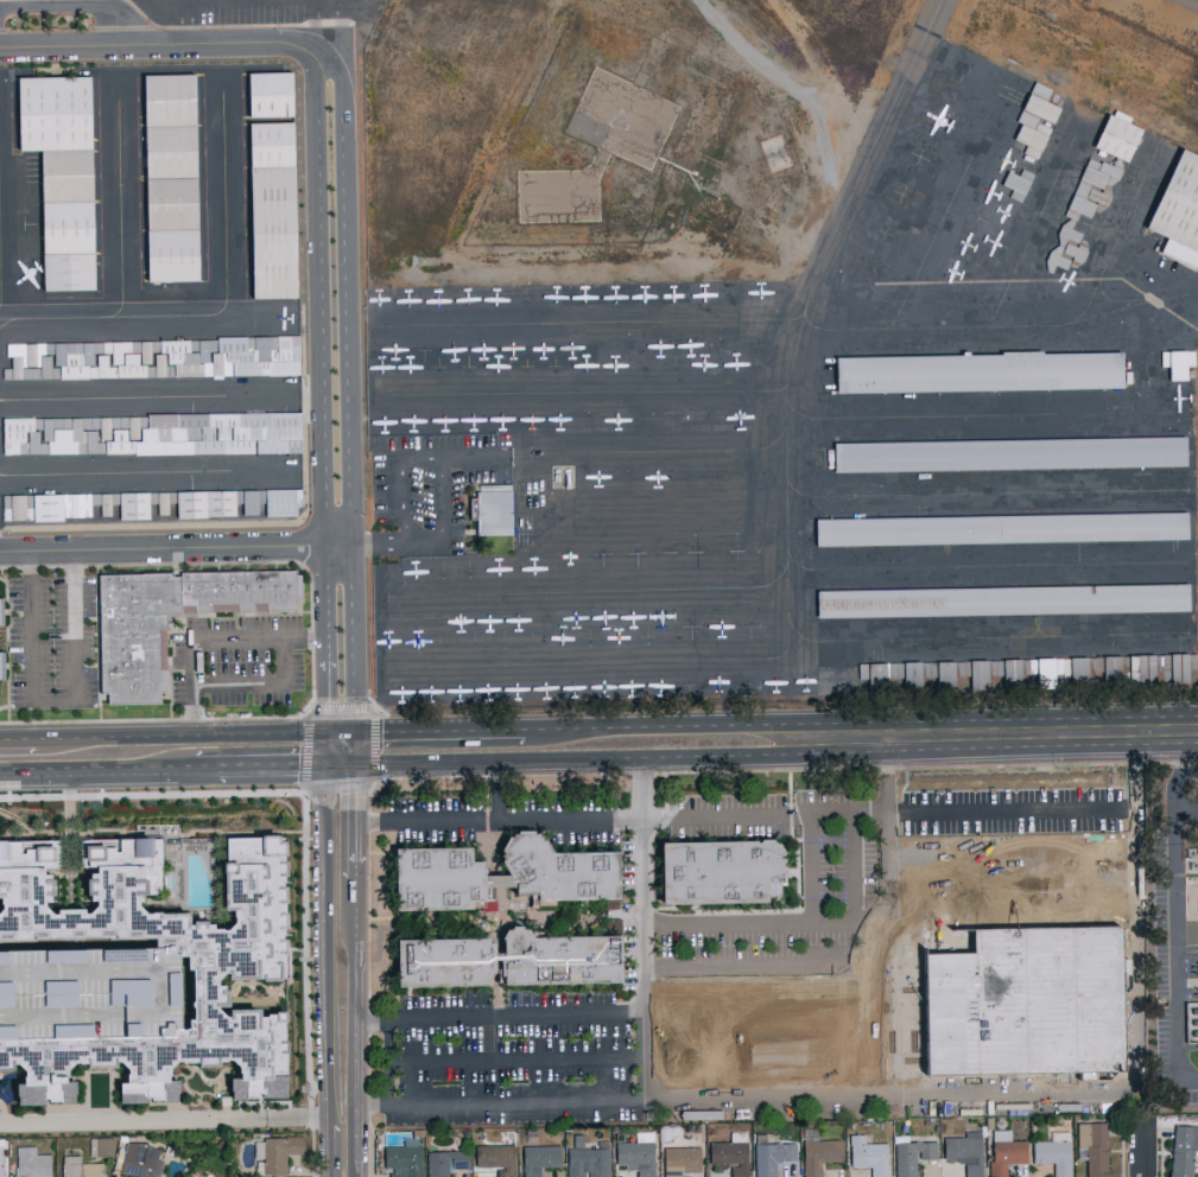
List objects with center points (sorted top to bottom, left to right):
road: (78, 7)
parking lot: (258, 11)
road: (189, 24)
road: (327, 28)
road: (171, 49)
building: (271, 96)
building: (170, 100)
building: (53, 113)
building: (1033, 119)
building: (1114, 135)
building: (272, 146)
building: (171, 151)
building: (66, 176)
building: (1095, 180)
building: (172, 204)
building: (1177, 209)
building: (68, 228)
building: (273, 233)
building: (1070, 234)
building: (172, 256)
building: (68, 272)
airport: (630, 330)
building: (152, 358)
building: (1175, 362)
building: (981, 373)
road: (319, 400)
road: (349, 401)
building: (152, 435)
building: (1012, 454)
road: (473, 458)
airport taxiway: (115, 473)
airport taxiway: (1, 475)
road: (398, 481)
parking lot: (429, 492)
road: (444, 500)
building: (150, 508)
building: (495, 510)
building: (997, 528)
road: (399, 543)
road: (176, 549)
building: (999, 600)
road: (214, 641)
parking lot: (52, 643)
building: (134, 655)
parking lot: (234, 660)
building: (1171, 668)
building: (1070, 669)
building: (1102, 670)
building: (1135, 670)
building: (1006, 672)
building: (901, 675)
road: (260, 683)
road: (55, 702)
road: (341, 710)
road: (663, 725)
road: (439, 729)
traffic signals: (325, 731)
road: (341, 731)
traffic signals: (356, 731)
road: (179, 732)
road: (18, 736)
road: (996, 740)
road: (373, 745)
road: (325, 746)
road: (356, 746)
road: (306, 750)
road: (577, 759)
road: (341, 762)
traffic signals: (356, 762)
road: (260, 763)
traffic signals: (325, 763)
road: (97, 765)
road: (1181, 772)
road: (338, 787)
road: (1090, 806)
road: (1046, 816)
road: (966, 817)
road: (621, 819)
road: (356, 820)
road: (1090, 848)
road: (966, 857)
road: (854, 867)
road: (810, 869)
building: (565, 874)
building: (725, 876)
building: (440, 883)
road: (968, 896)
road: (356, 914)
road: (889, 918)
road: (1136, 922)
road: (766, 923)
building: (28, 924)
road: (642, 931)
building: (175, 937)
road: (327, 942)
road: (1177, 942)
building: (513, 966)
road: (767, 967)
building: (135, 988)
building: (1031, 1006)
road: (623, 1014)
road: (640, 1057)
road: (356, 1063)
road: (389, 1063)
road: (734, 1101)
road: (164, 1119)
building: (103, 1146)
building: (1092, 1147)
road: (1143, 1149)
building: (1181, 1149)
road: (329, 1150)
building: (964, 1151)
building: (1003, 1151)
building: (277, 1152)
building: (1052, 1152)
building: (636, 1153)
building: (730, 1153)
building: (818, 1154)
building: (868, 1154)
building: (912, 1156)
building: (494, 1157)
building: (772, 1157)
building: (0, 1158)
building: (538, 1158)
building: (679, 1159)
building: (139, 1160)
building: (401, 1160)
building: (589, 1160)
building: (444, 1162)
building: (30, 1163)
building: (82, 1168)

